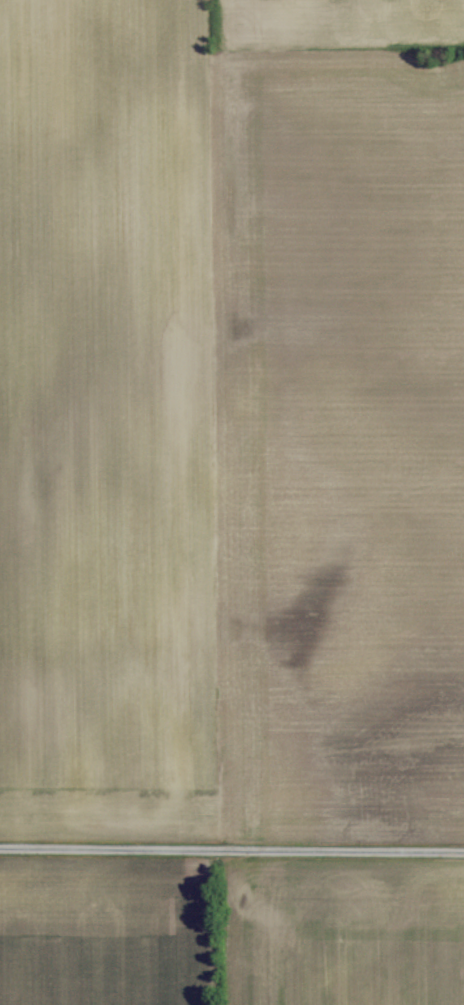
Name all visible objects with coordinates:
road: (231, 850)

